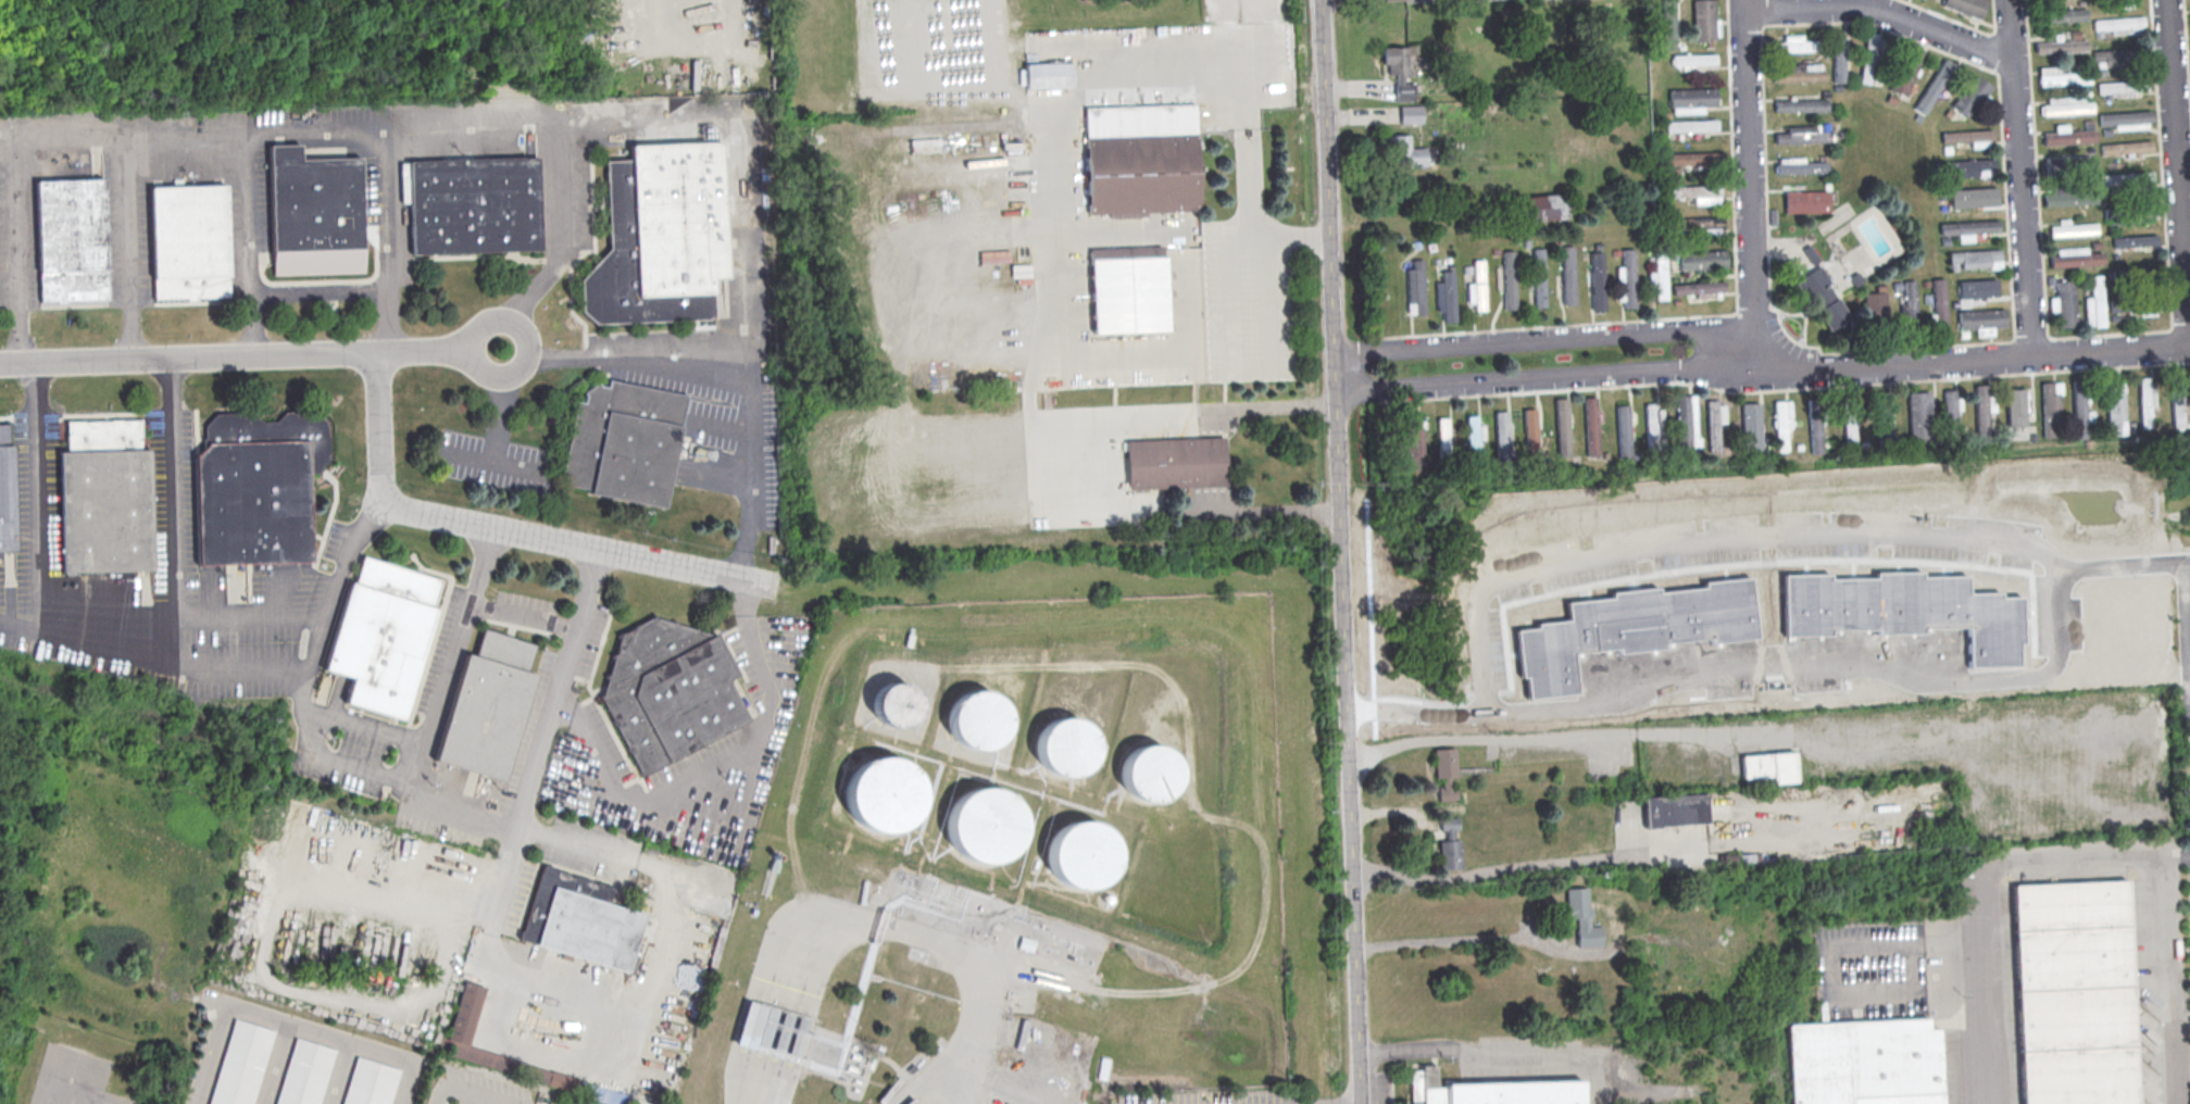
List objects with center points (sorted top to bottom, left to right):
building: (1966, 7)
road: (1880, 11)
building: (2062, 14)
building: (1703, 20)
building: (1668, 24)
building: (2119, 24)
building: (1793, 43)
road: (705, 45)
building: (2060, 46)
building: (1837, 55)
building: (1870, 58)
building: (1693, 59)
building: (2107, 61)
building: (1398, 70)
building: (1904, 71)
building: (1798, 72)
building: (1049, 74)
building: (2061, 76)
building: (1932, 86)
building: (2122, 86)
building: (1970, 95)
building: (1692, 100)
building: (1801, 104)
building: (2065, 105)
building: (1411, 113)
building: (2125, 117)
road: (292, 125)
road: (605, 125)
building: (1691, 125)
building: (2130, 126)
building: (1803, 135)
building: (1966, 135)
building: (2067, 135)
road: (4, 136)
building: (2126, 147)
building: (1405, 152)
building: (1694, 158)
building: (1142, 161)
building: (1800, 167)
building: (1968, 167)
road: (2179, 172)
road: (2019, 177)
road: (1750, 179)
building: (2118, 180)
building: (1699, 192)
building: (1974, 197)
building: (2069, 197)
road: (742, 201)
building: (1806, 201)
building: (474, 204)
building: (1544, 206)
building: (314, 212)
road: (1061, 217)
road: (1250, 217)
building: (1700, 224)
building: (1968, 228)
building: (2072, 228)
road: (1118, 234)
building: (660, 236)
road: (389, 237)
building: (71, 239)
building: (2135, 240)
building: (188, 241)
road: (247, 241)
road: (130, 246)
building: (2075, 258)
building: (1975, 259)
building: (1703, 260)
building: (1660, 273)
building: (1569, 275)
building: (1540, 277)
building: (1628, 278)
building: (1511, 279)
building: (1599, 280)
building: (1478, 286)
building: (1417, 287)
building: (1700, 287)
building: (1978, 288)
road: (320, 291)
building: (1129, 294)
building: (1447, 296)
building: (1824, 298)
building: (1910, 302)
building: (2094, 302)
building: (2064, 303)
building: (1875, 305)
building: (1939, 308)
building: (1981, 319)
road: (1535, 340)
road: (1159, 353)
road: (248, 356)
road: (731, 359)
road: (1959, 361)
road: (1239, 371)
road: (1535, 380)
building: (2177, 401)
building: (2145, 402)
building: (2016, 406)
building: (2116, 407)
building: (2079, 409)
building: (2051, 410)
road: (1268, 412)
building: (1980, 413)
building: (1950, 417)
building: (1884, 418)
building: (1919, 419)
building: (1591, 425)
building: (1684, 425)
building: (1713, 425)
building: (1780, 425)
building: (1814, 425)
building: (1850, 425)
building: (1562, 426)
building: (1751, 426)
building: (1530, 428)
building: (1501, 431)
building: (1652, 431)
building: (1624, 432)
road: (499, 435)
building: (1472, 436)
building: (1443, 438)
building: (625, 443)
building: (1413, 448)
road: (470, 461)
building: (1176, 462)
road: (34, 497)
building: (104, 498)
building: (7, 500)
building: (252, 502)
road: (178, 511)
road: (1272, 511)
road: (508, 531)
road: (1701, 543)
road: (1340, 551)
road: (340, 582)
building: (1903, 610)
road: (749, 612)
road: (523, 617)
road: (2187, 622)
building: (1631, 628)
building: (383, 635)
road: (449, 658)
road: (1825, 666)
building: (669, 690)
building: (899, 704)
building: (487, 705)
storage tank: (898, 705)
building: (979, 719)
storage tank: (979, 720)
road: (365, 726)
road: (1491, 740)
building: (1067, 745)
storage tank: (1068, 748)
road: (1873, 754)
building: (1769, 768)
building: (1151, 773)
storage tank: (1151, 774)
building: (1447, 774)
road: (678, 776)
road: (366, 777)
building: (885, 794)
storage tank: (886, 795)
building: (1676, 813)
building: (986, 825)
storage tank: (986, 826)
building: (1451, 848)
building: (1083, 854)
storage tank: (1084, 856)
road: (2174, 857)
road: (2069, 863)
road: (1524, 875)
building: (1582, 918)
building: (580, 919)
road: (1465, 940)
road: (1951, 940)
road: (951, 951)
road: (1832, 984)
building: (2074, 993)
road: (233, 1003)
road: (648, 1011)
building: (465, 1016)
building: (777, 1031)
road: (401, 1058)
road: (1475, 1061)
road: (276, 1063)
building: (1865, 1063)
building: (240, 1064)
building: (304, 1072)
road: (337, 1072)
road: (981, 1080)
building: (370, 1082)
road: (466, 1089)
building: (1493, 1091)
building: (608, 1095)
road: (63, 1099)
building: (912, 1101)

